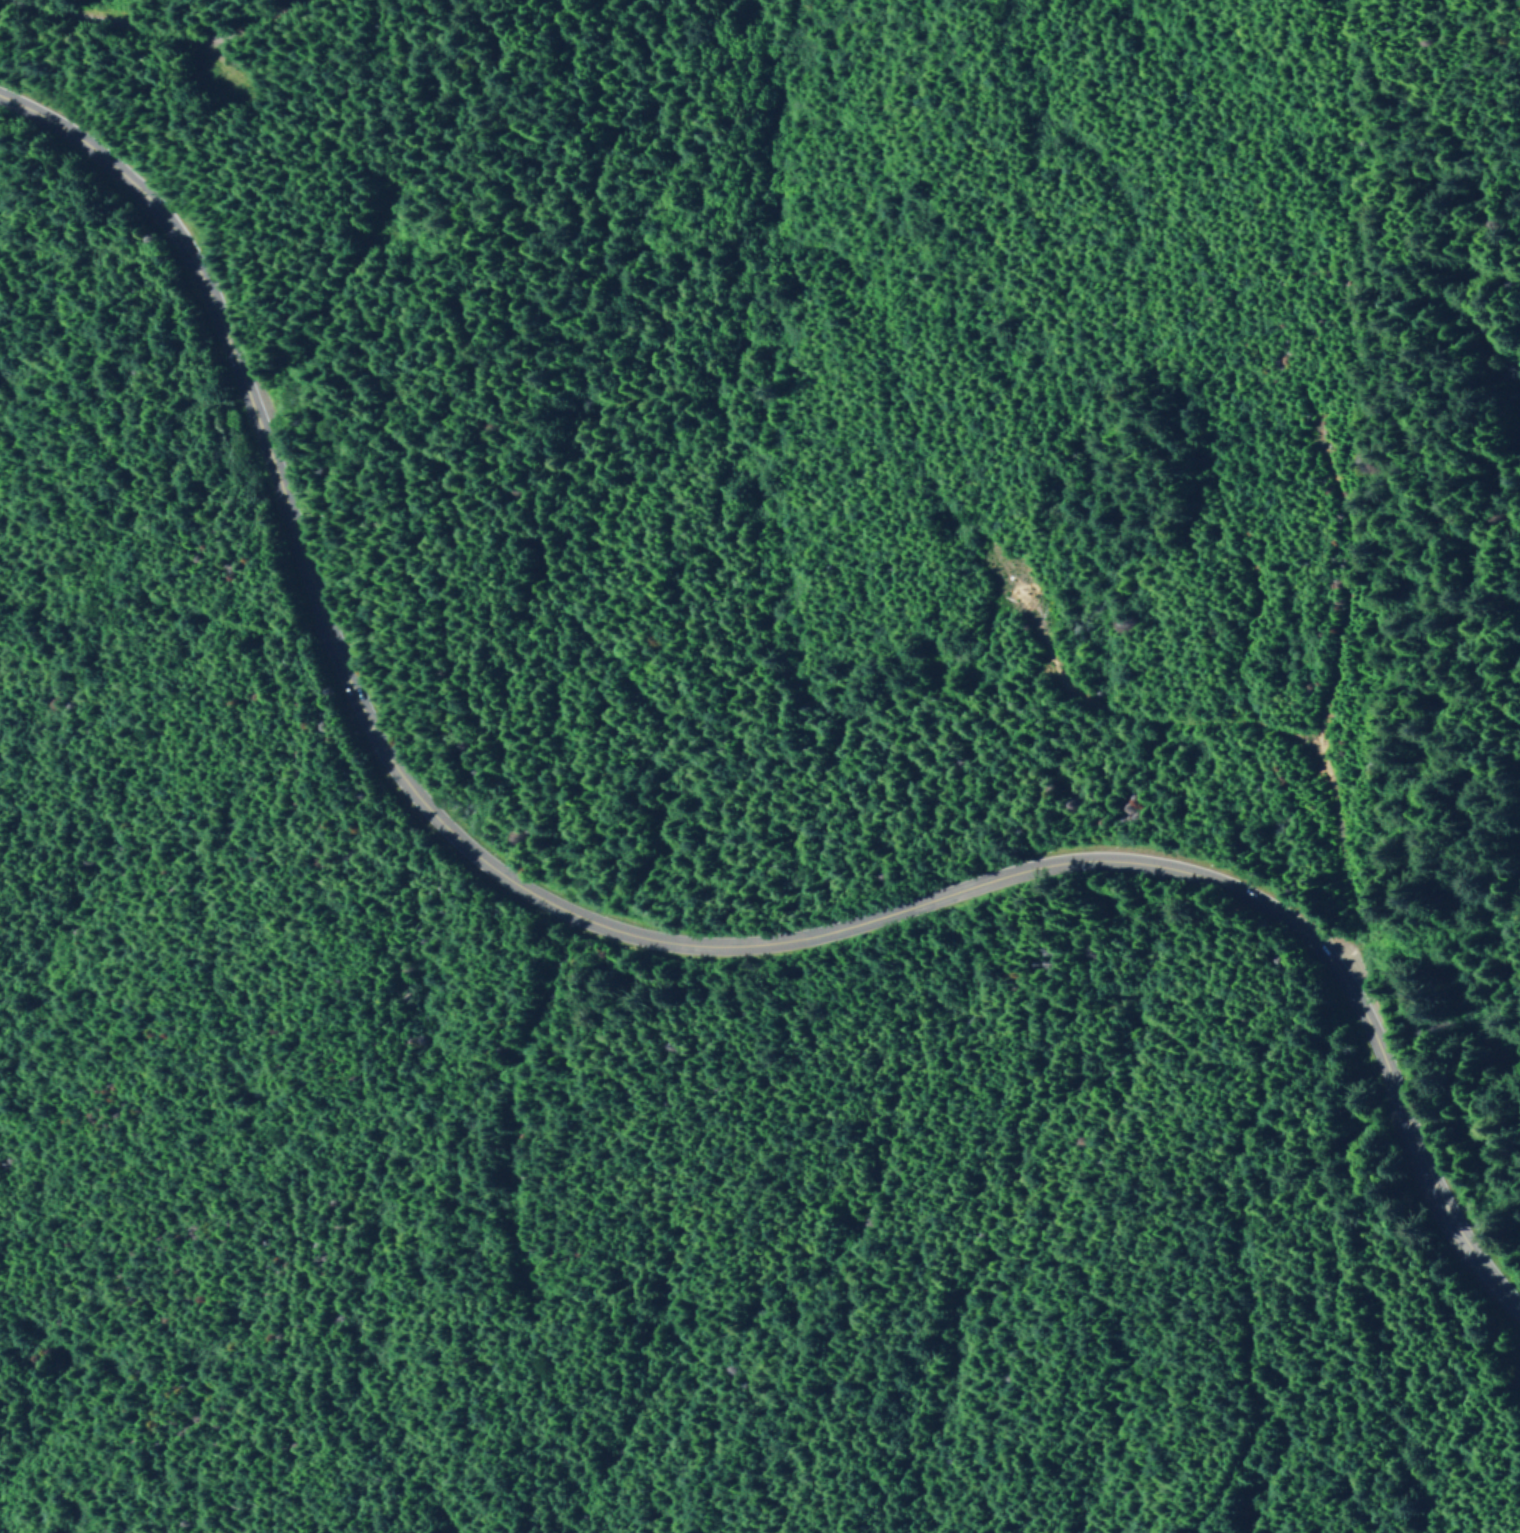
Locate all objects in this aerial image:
road: (119, 28)
road: (1445, 932)
road: (650, 945)

